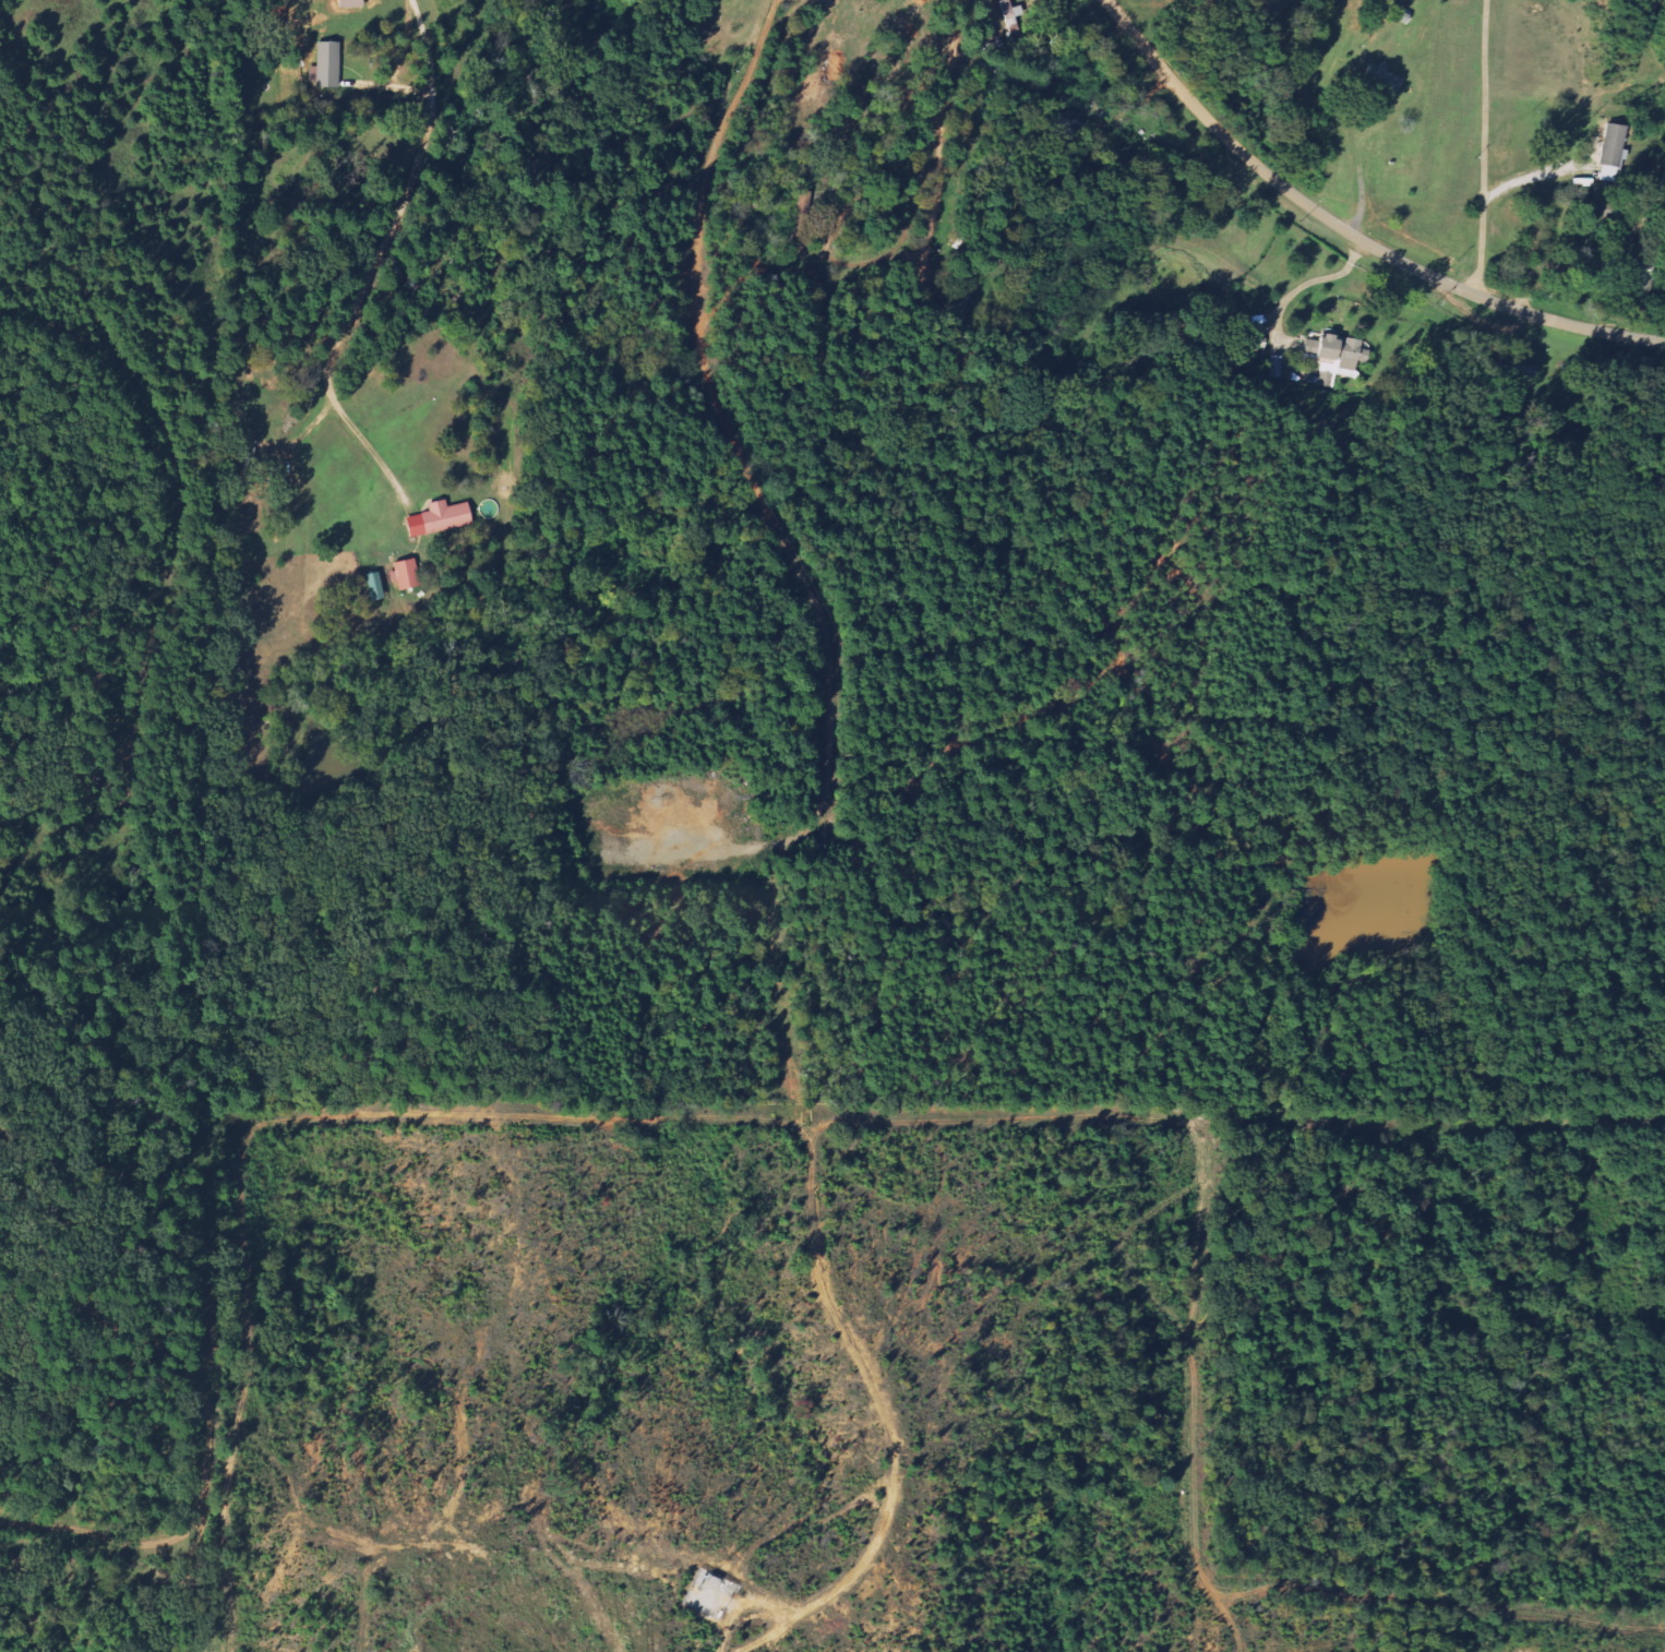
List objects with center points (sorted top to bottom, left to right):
building: (355, 3)
building: (326, 62)
building: (1385, 79)
building: (1617, 145)
road: (1484, 146)
road: (1349, 230)
road: (376, 261)
building: (443, 515)
building: (409, 574)
building: (376, 586)

